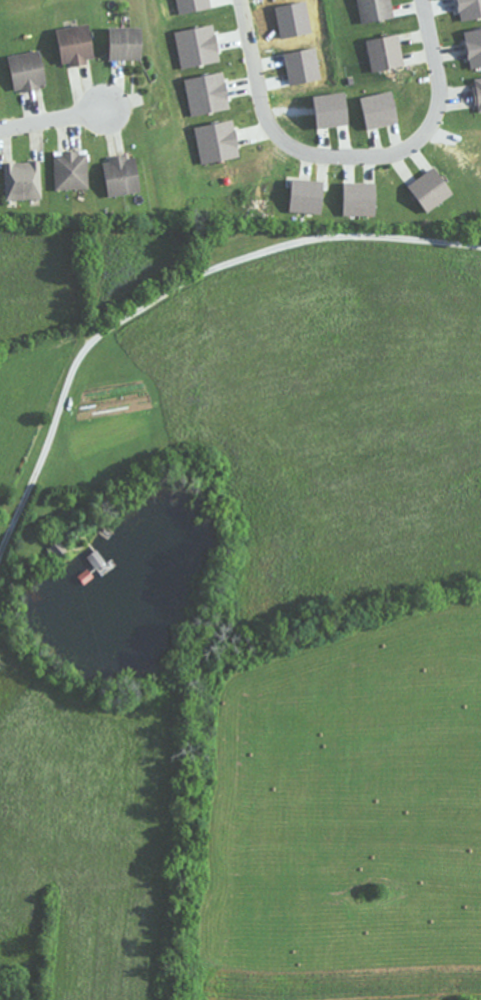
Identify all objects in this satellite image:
building: (374, 10)
building: (122, 43)
building: (73, 45)
building: (26, 71)
building: (477, 92)
road: (52, 119)
road: (353, 156)
building: (71, 170)
building: (120, 175)
building: (23, 180)
road: (153, 272)
road: (30, 325)

